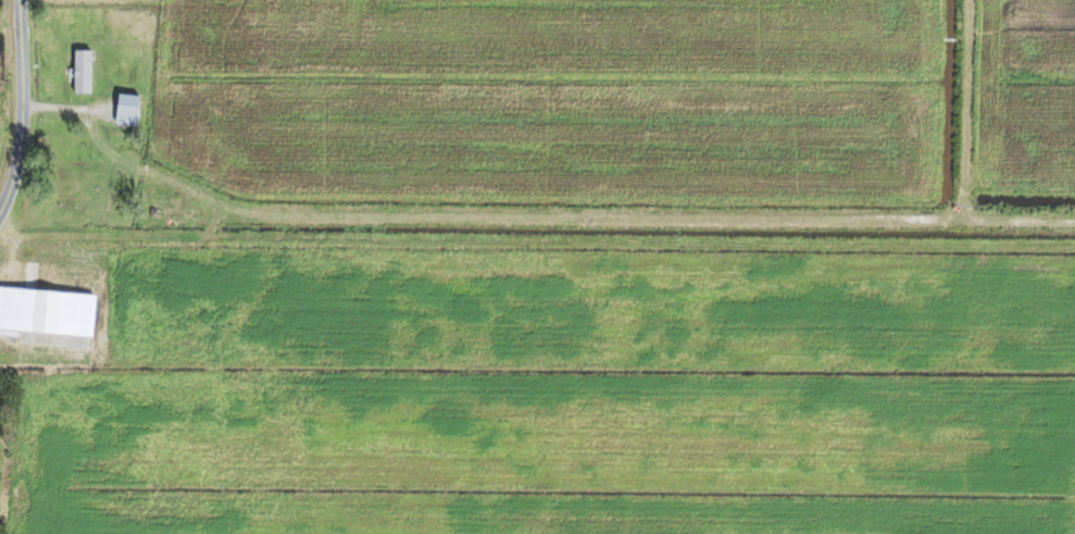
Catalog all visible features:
building: (82, 70)
road: (20, 79)
road: (545, 134)
road: (9, 184)
building: (47, 310)

